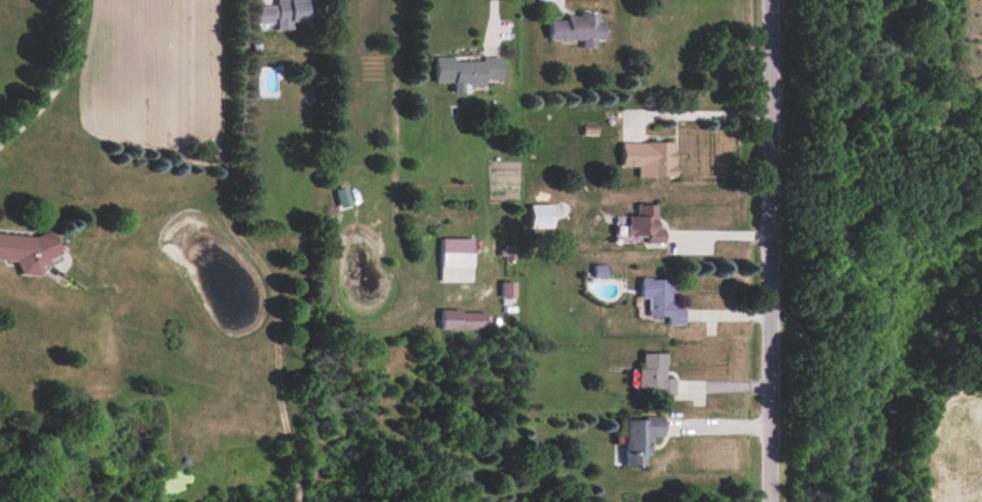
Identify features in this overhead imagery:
building: (281, 13)
road: (492, 17)
building: (576, 28)
building: (466, 71)
road: (58, 80)
road: (702, 114)
road: (392, 155)
building: (648, 158)
building: (342, 196)
building: (644, 223)
road: (717, 235)
road: (251, 250)
road: (770, 250)
building: (26, 251)
building: (507, 252)
building: (456, 259)
building: (508, 289)
building: (660, 299)
building: (463, 319)
building: (653, 375)
road: (717, 426)
building: (639, 438)

